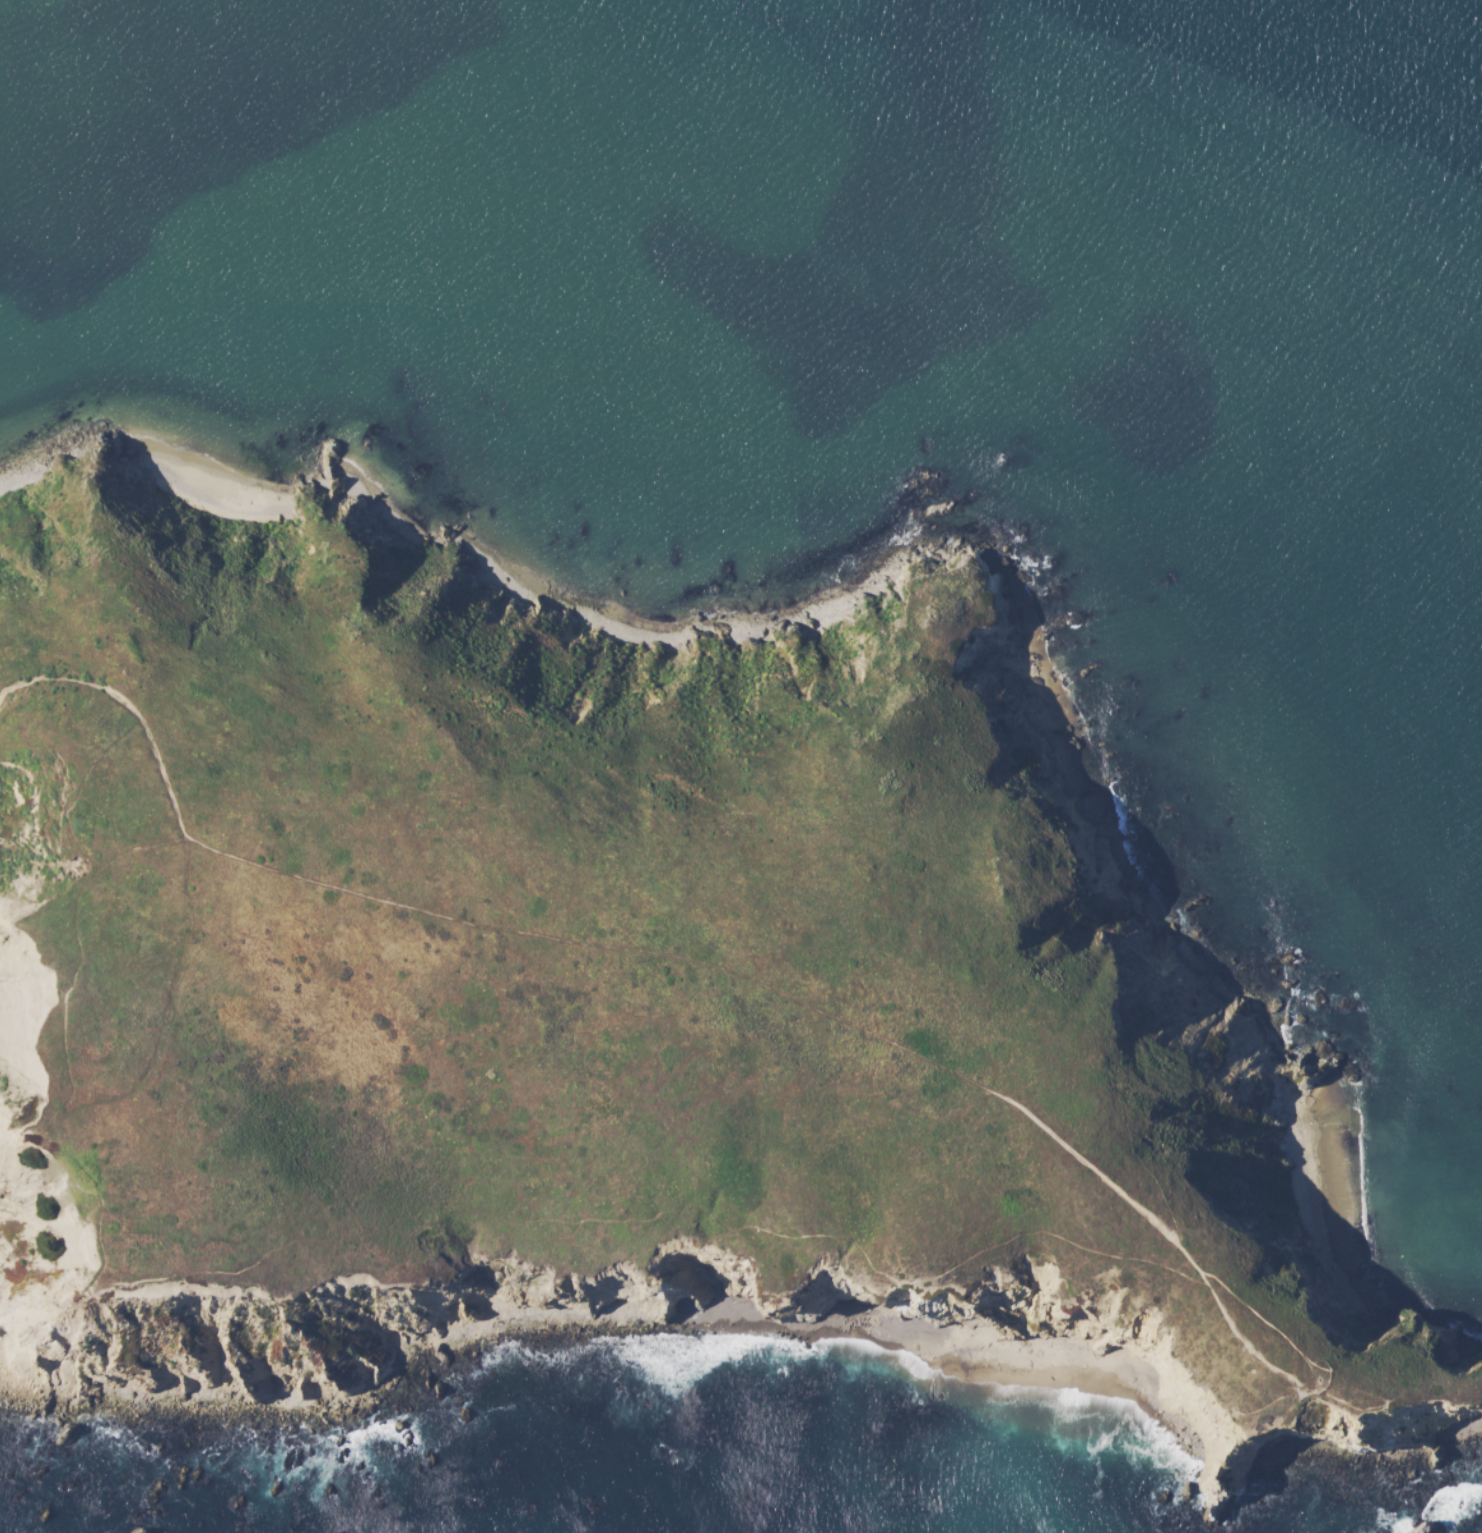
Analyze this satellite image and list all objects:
road: (131, 705)
road: (130, 847)
road: (74, 914)
road: (170, 1019)
road: (951, 1070)
road: (1124, 1114)
building: (84, 1121)
road: (99, 1196)
road: (574, 1231)
road: (803, 1236)
road: (303, 1240)
road: (1210, 1359)

